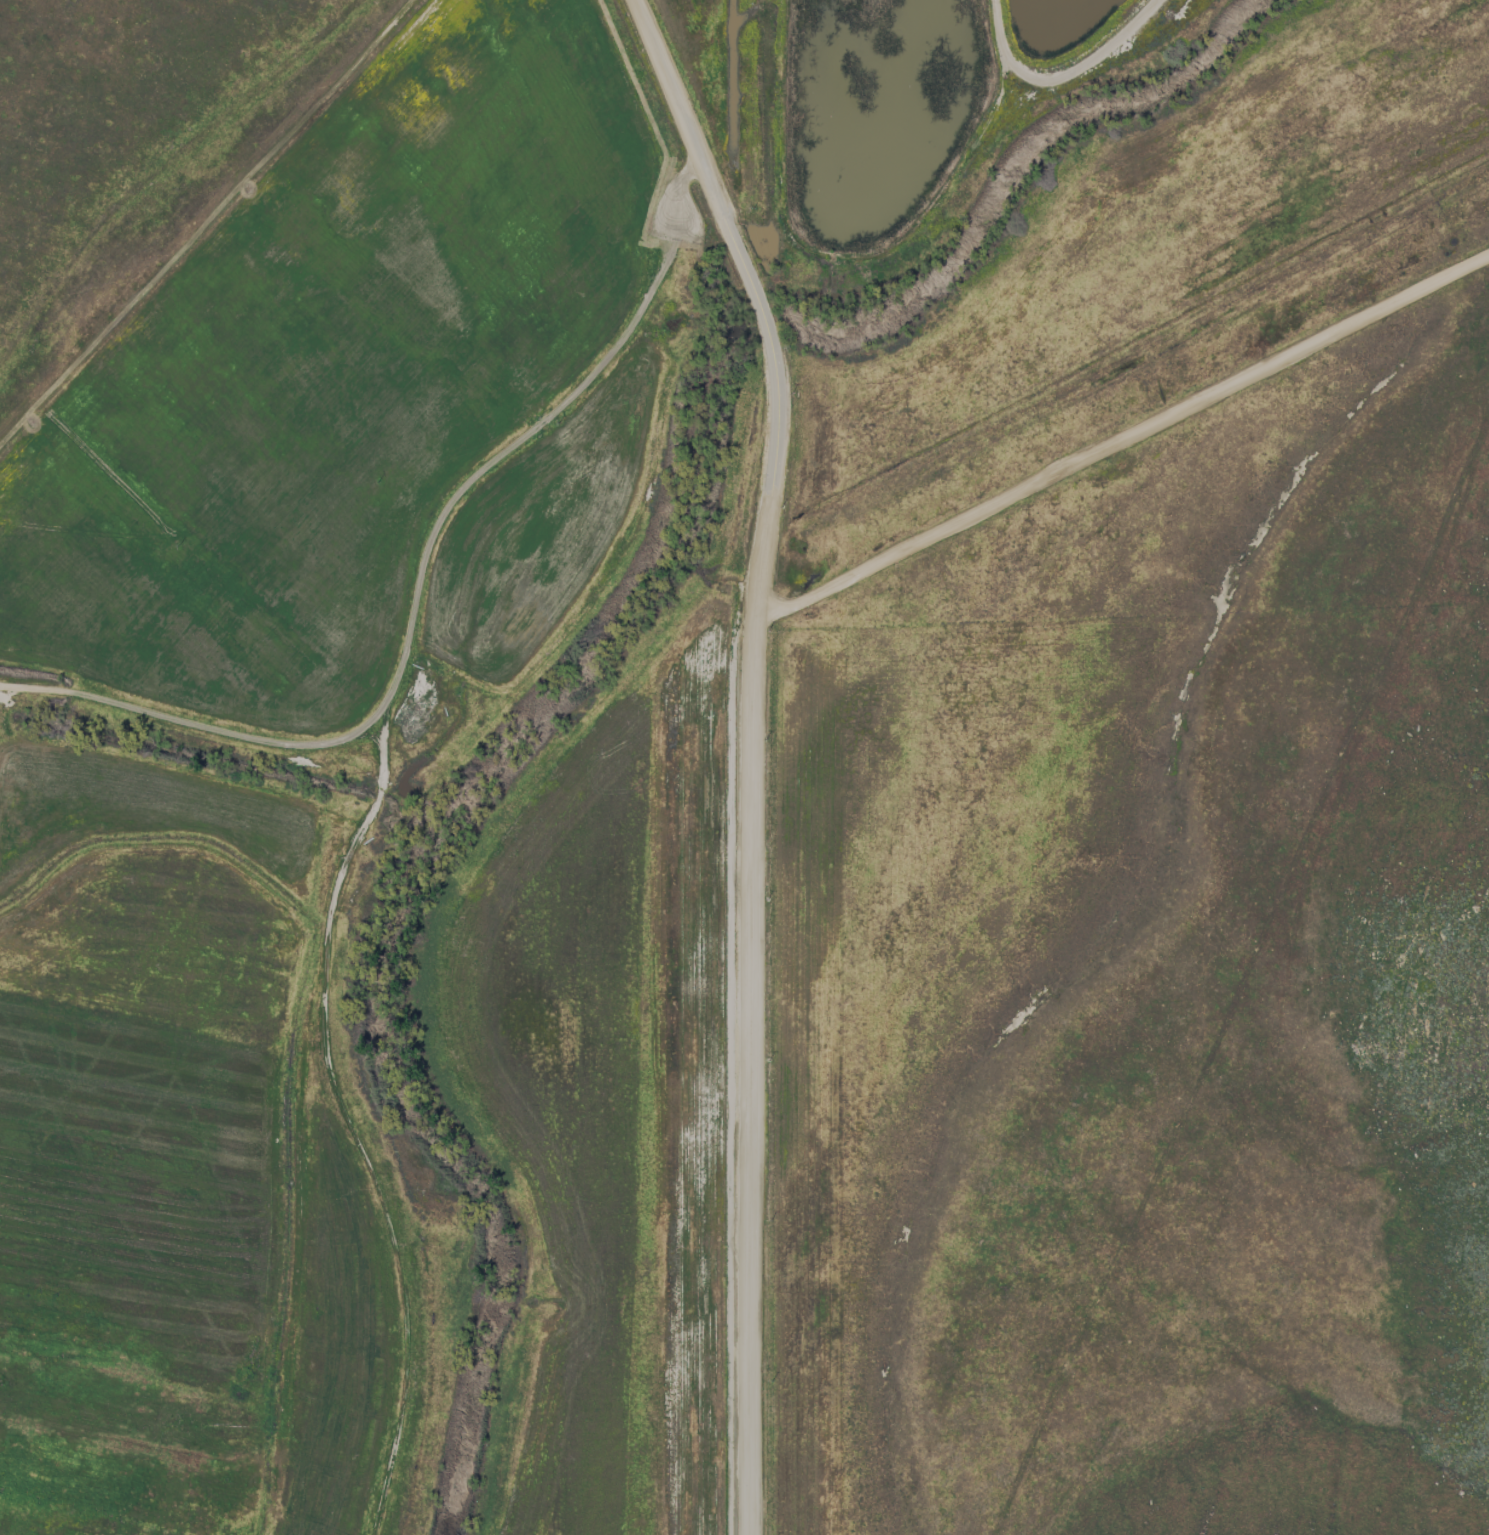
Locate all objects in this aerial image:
road: (1059, 75)
road: (1117, 432)
road: (750, 753)

